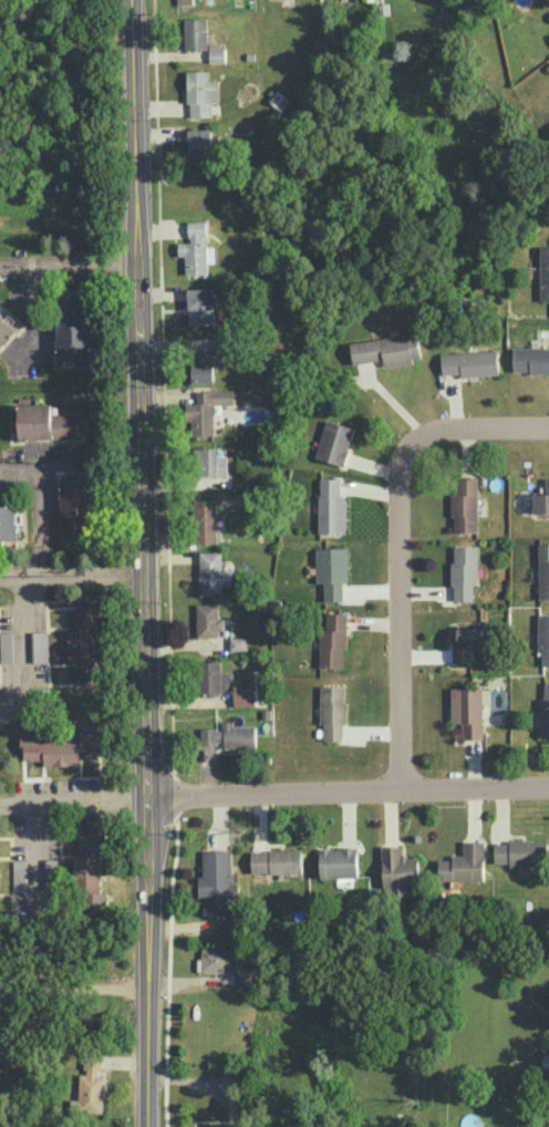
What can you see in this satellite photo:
building: (185, 1)
building: (196, 32)
building: (217, 52)
building: (201, 93)
building: (200, 145)
building: (195, 248)
road: (69, 267)
building: (545, 272)
building: (201, 306)
building: (6, 330)
building: (72, 330)
building: (387, 349)
building: (530, 359)
building: (469, 362)
building: (206, 364)
building: (206, 409)
building: (45, 422)
building: (334, 442)
building: (207, 464)
road: (145, 493)
building: (542, 499)
road: (40, 504)
building: (465, 505)
building: (331, 506)
building: (76, 507)
building: (205, 520)
building: (8, 523)
road: (400, 546)
building: (332, 570)
building: (543, 570)
building: (464, 571)
road: (74, 573)
building: (213, 573)
building: (208, 620)
building: (543, 638)
building: (333, 641)
building: (238, 643)
building: (467, 644)
building: (40, 645)
building: (84, 645)
building: (6, 647)
road: (23, 648)
building: (213, 678)
building: (244, 694)
building: (468, 710)
building: (546, 710)
building: (333, 711)
building: (229, 735)
building: (62, 747)
road: (350, 794)
road: (75, 800)
building: (521, 852)
road: (34, 854)
building: (276, 860)
building: (338, 861)
building: (464, 864)
building: (398, 868)
building: (91, 869)
building: (52, 873)
building: (21, 875)
building: (217, 882)
building: (0, 883)
building: (216, 959)
building: (244, 982)
road: (74, 988)
road: (149, 1057)
road: (206, 1085)
building: (91, 1088)

